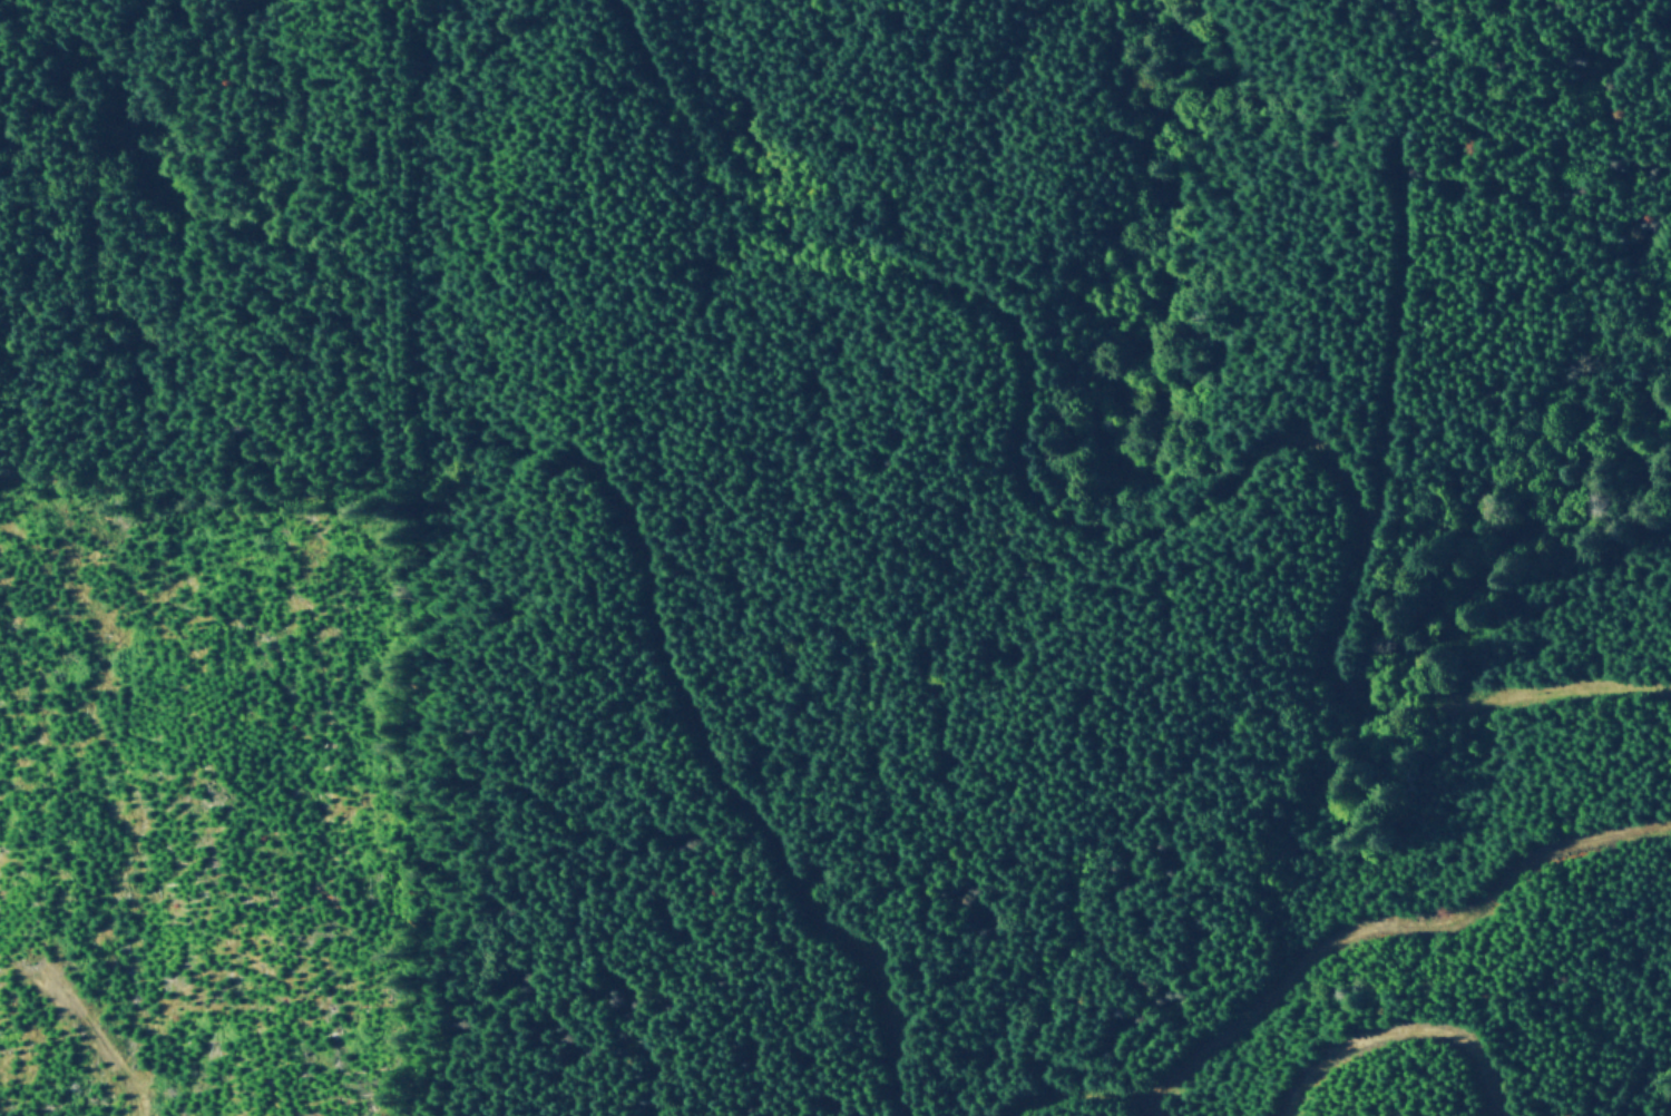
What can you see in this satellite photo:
road: (1393, 345)
road: (1141, 529)
road: (733, 793)
road: (1330, 944)
road: (1403, 1030)
road: (100, 1041)
road: (1157, 1100)

